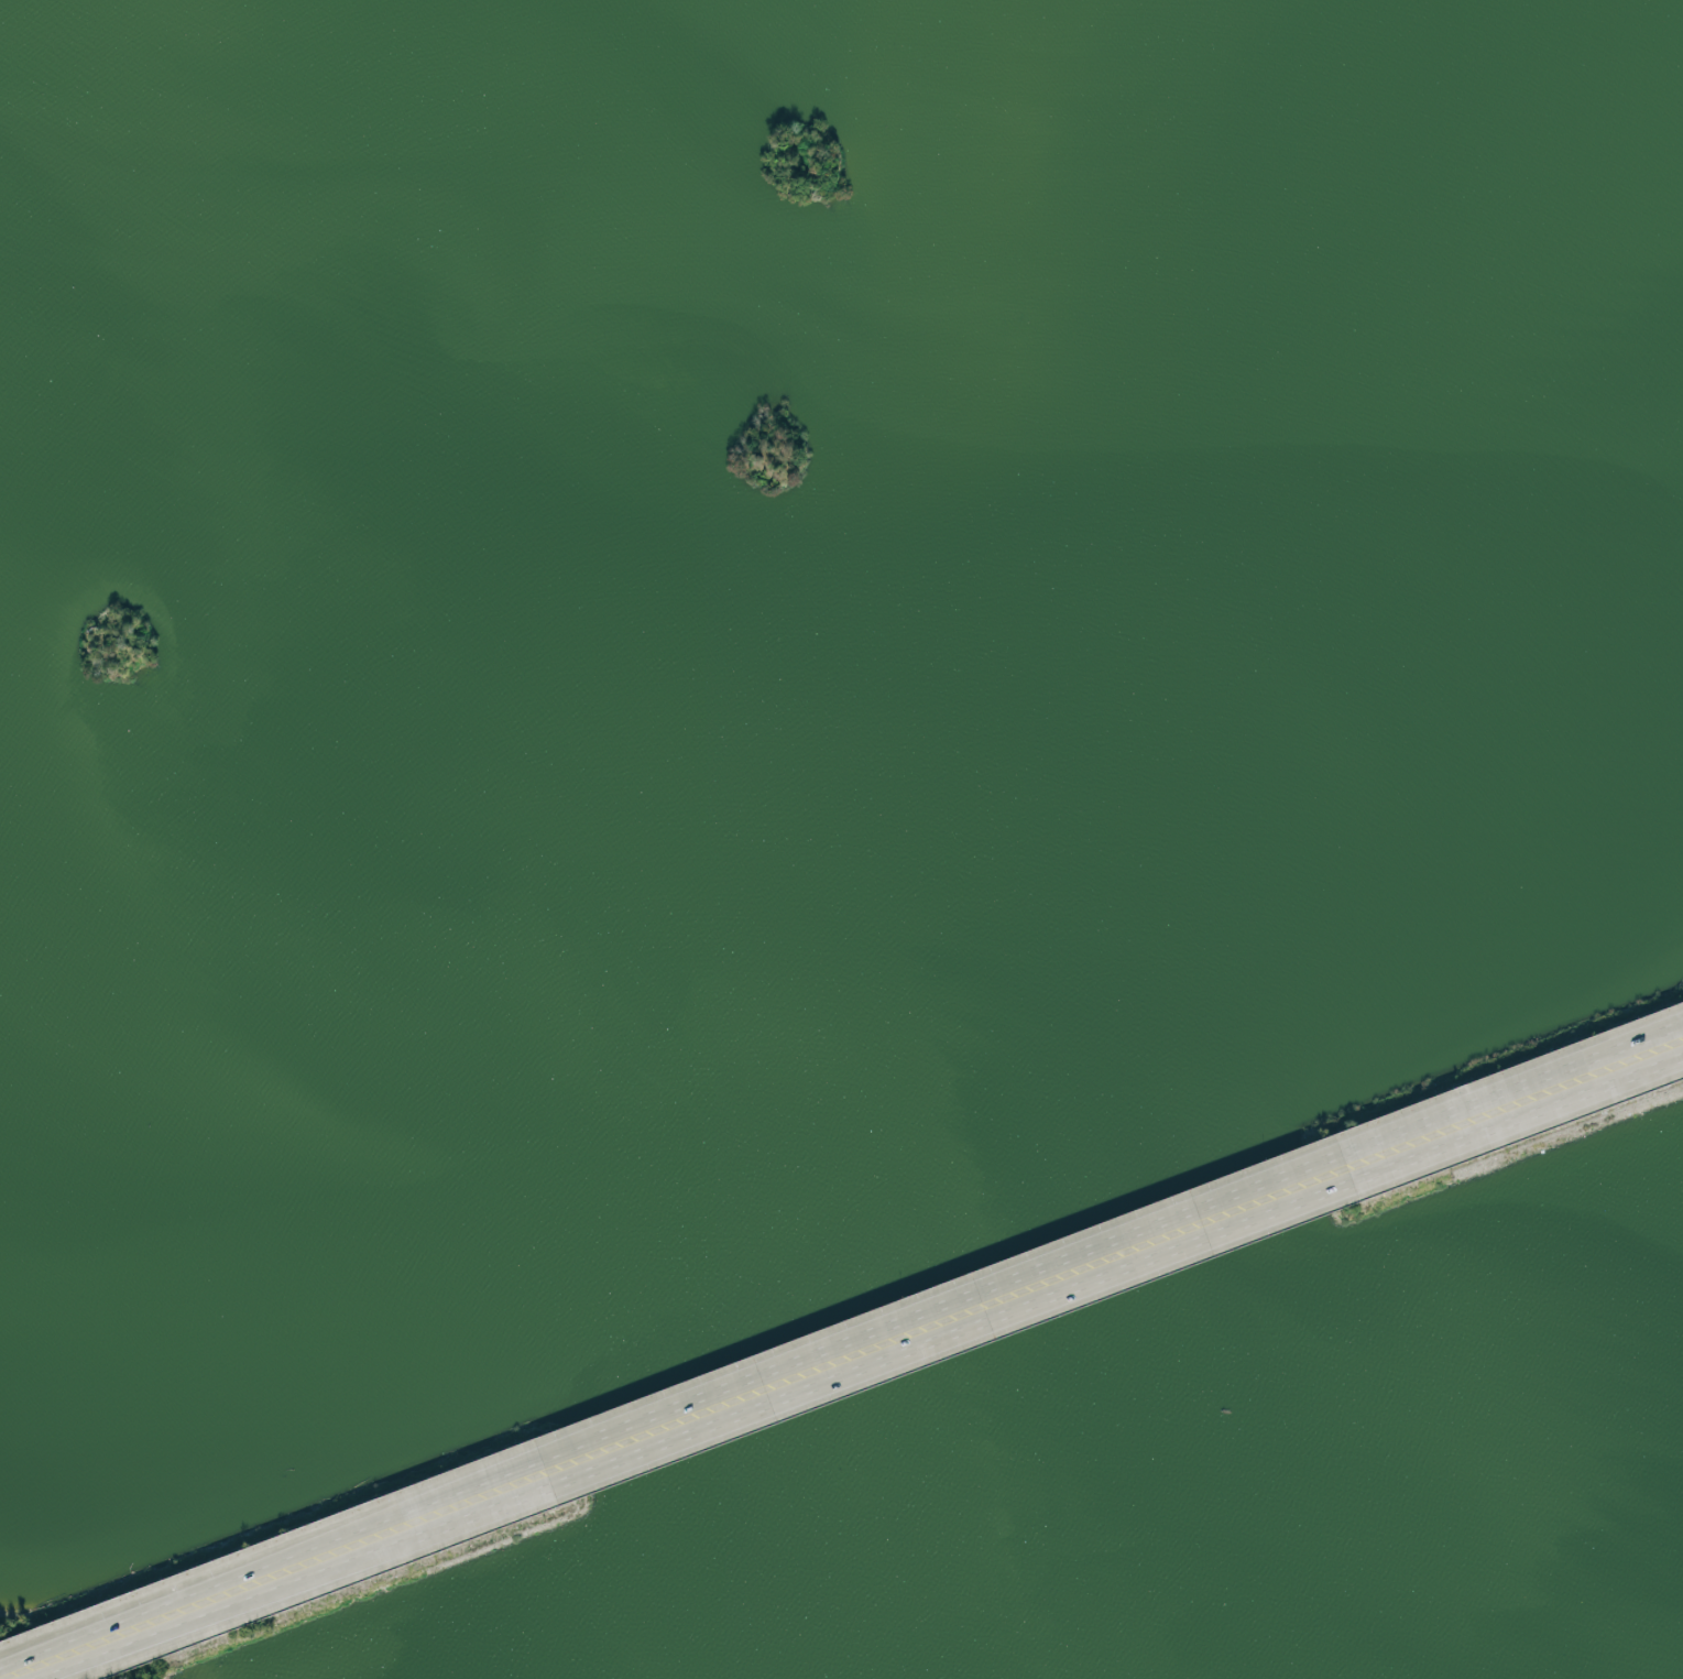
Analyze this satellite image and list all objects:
river: (784, 1016)
road: (1194, 1235)
road: (587, 1465)
road: (429, 1525)
road: (206, 1610)

